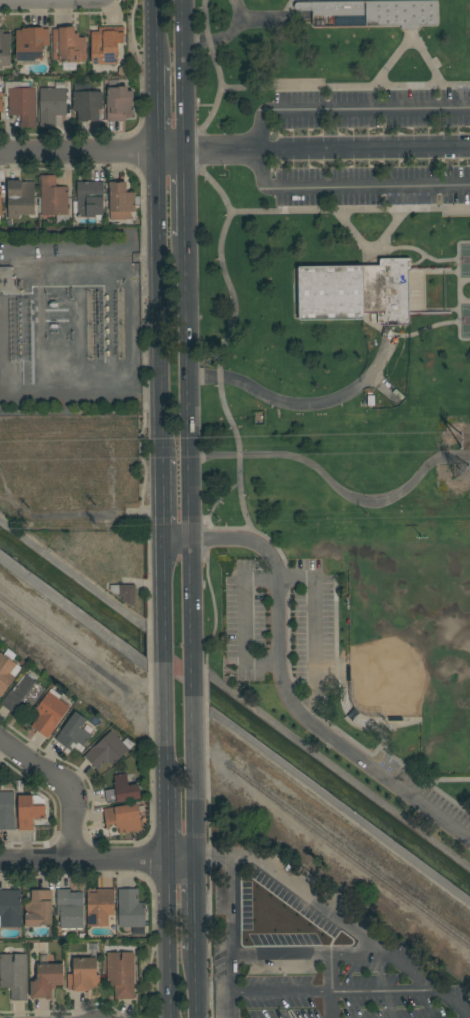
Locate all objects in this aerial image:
building: (331, 8)
building: (401, 13)
road: (254, 18)
road: (155, 32)
road: (411, 34)
road: (410, 39)
building: (31, 44)
building: (68, 45)
building: (106, 45)
building: (4, 49)
road: (182, 73)
road: (345, 85)
building: (1, 100)
building: (87, 102)
building: (52, 103)
building: (22, 104)
building: (120, 104)
road: (157, 109)
parking lot: (372, 147)
road: (312, 149)
road: (259, 151)
road: (79, 154)
road: (184, 190)
building: (20, 198)
building: (53, 198)
building: (0, 200)
building: (89, 200)
building: (121, 201)
road: (349, 210)
road: (387, 229)
road: (359, 236)
road: (417, 251)
park: (465, 261)
road: (419, 262)
road: (220, 266)
building: (5, 278)
road: (465, 279)
road: (460, 291)
building: (356, 292)
road: (465, 302)
road: (160, 306)
power substation: (70, 321)
park: (465, 321)
road: (416, 334)
park: (340, 382)
road: (187, 386)
road: (304, 404)
power tower: (467, 440)
power tower: (459, 480)
road: (332, 482)
road: (162, 499)
road: (176, 540)
building: (95, 552)
road: (293, 579)
building: (124, 592)
parking lot: (280, 621)
park: (410, 630)
railway: (62, 644)
road: (165, 659)
building: (7, 670)
building: (22, 693)
road: (192, 698)
road: (288, 699)
building: (48, 713)
road: (325, 720)
building: (73, 731)
road: (384, 735)
building: (106, 750)
road: (448, 780)
road: (65, 786)
building: (122, 790)
parking lot: (425, 792)
building: (29, 810)
building: (7, 811)
building: (123, 818)
road: (167, 818)
railway: (348, 855)
road: (97, 858)
road: (297, 892)
road: (195, 903)
building: (99, 907)
building: (10, 908)
building: (70, 908)
building: (38, 909)
building: (130, 910)
road: (273, 927)
road: (169, 937)
road: (226, 939)
road: (278, 955)
road: (361, 955)
building: (83, 974)
building: (121, 974)
building: (14, 975)
building: (46, 980)
road: (196, 984)
road: (331, 986)
road: (430, 986)
road: (382, 988)
road: (280, 991)

